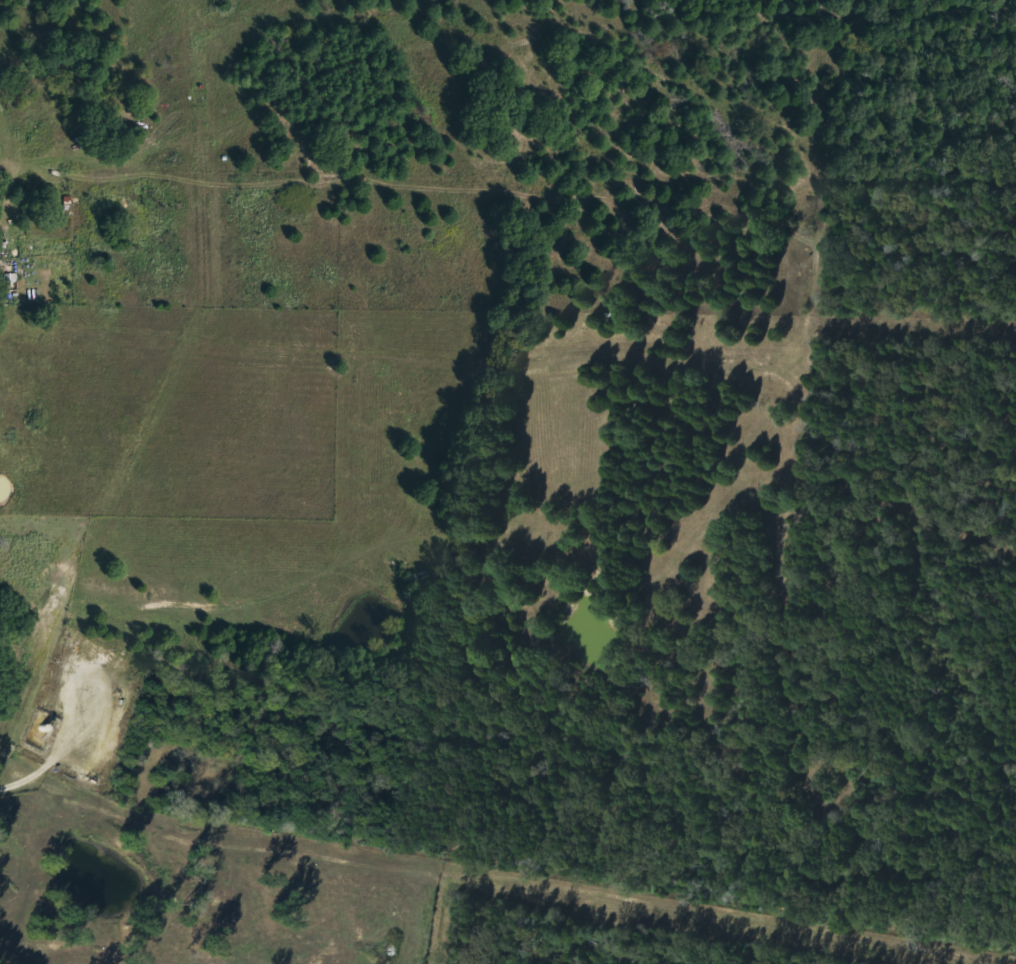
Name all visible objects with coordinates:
road: (9, 870)

